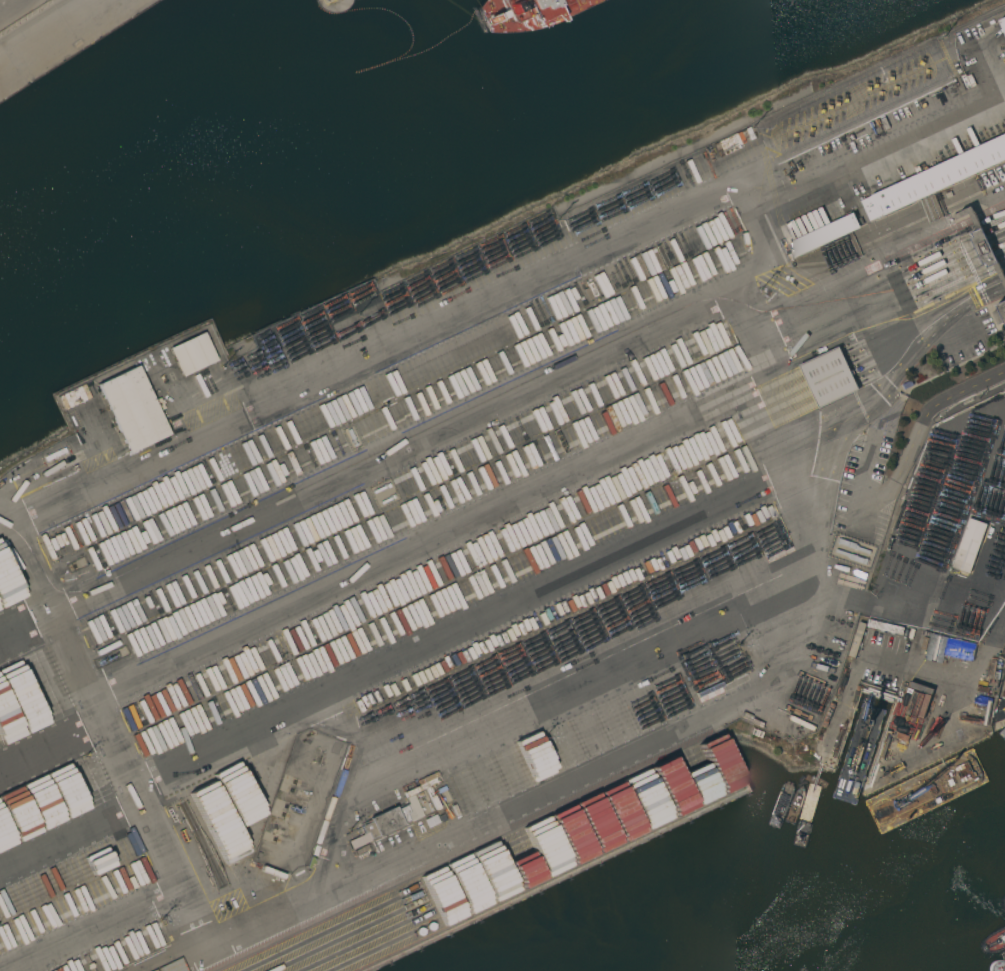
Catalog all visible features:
building: (1003, 22)
building: (727, 147)
building: (934, 178)
building: (822, 235)
building: (983, 247)
building: (1000, 312)
building: (192, 354)
building: (823, 365)
road: (886, 380)
building: (833, 387)
road: (970, 390)
building: (71, 398)
building: (132, 409)
road: (472, 410)
road: (224, 420)
road: (877, 514)
building: (970, 545)
road: (378, 558)
road: (393, 655)
road: (958, 683)
building: (1004, 695)
road: (533, 713)
building: (423, 787)
road: (544, 787)
building: (325, 820)
building: (385, 822)
building: (415, 909)
road: (95, 929)

